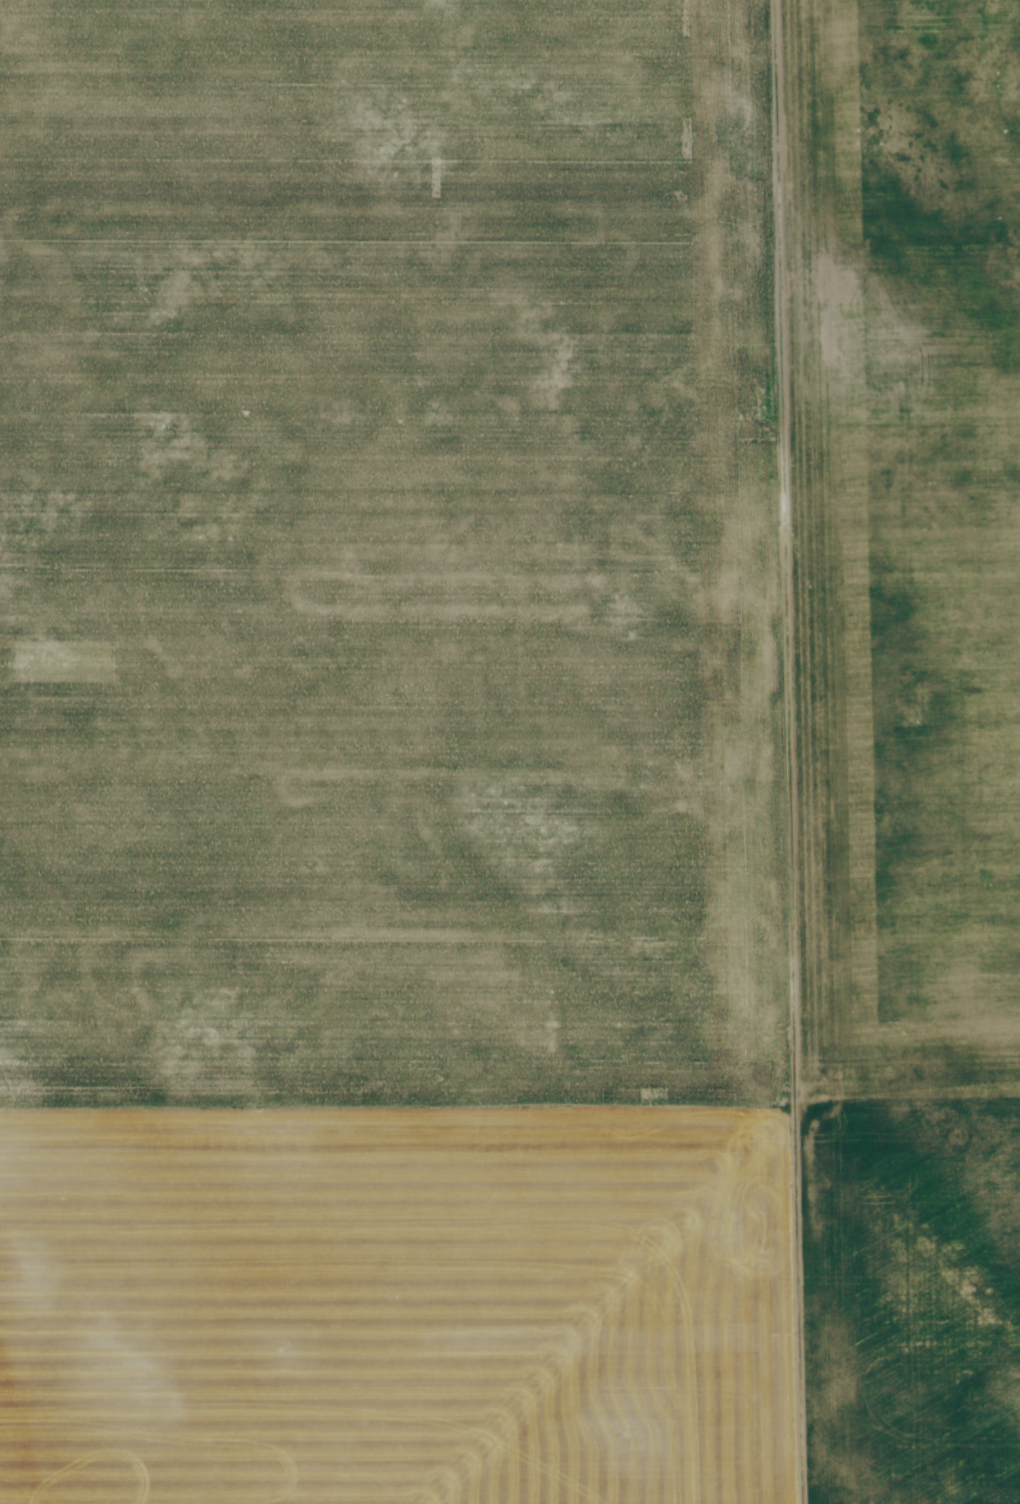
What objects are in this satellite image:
road: (791, 751)
crop: (510, 752)

